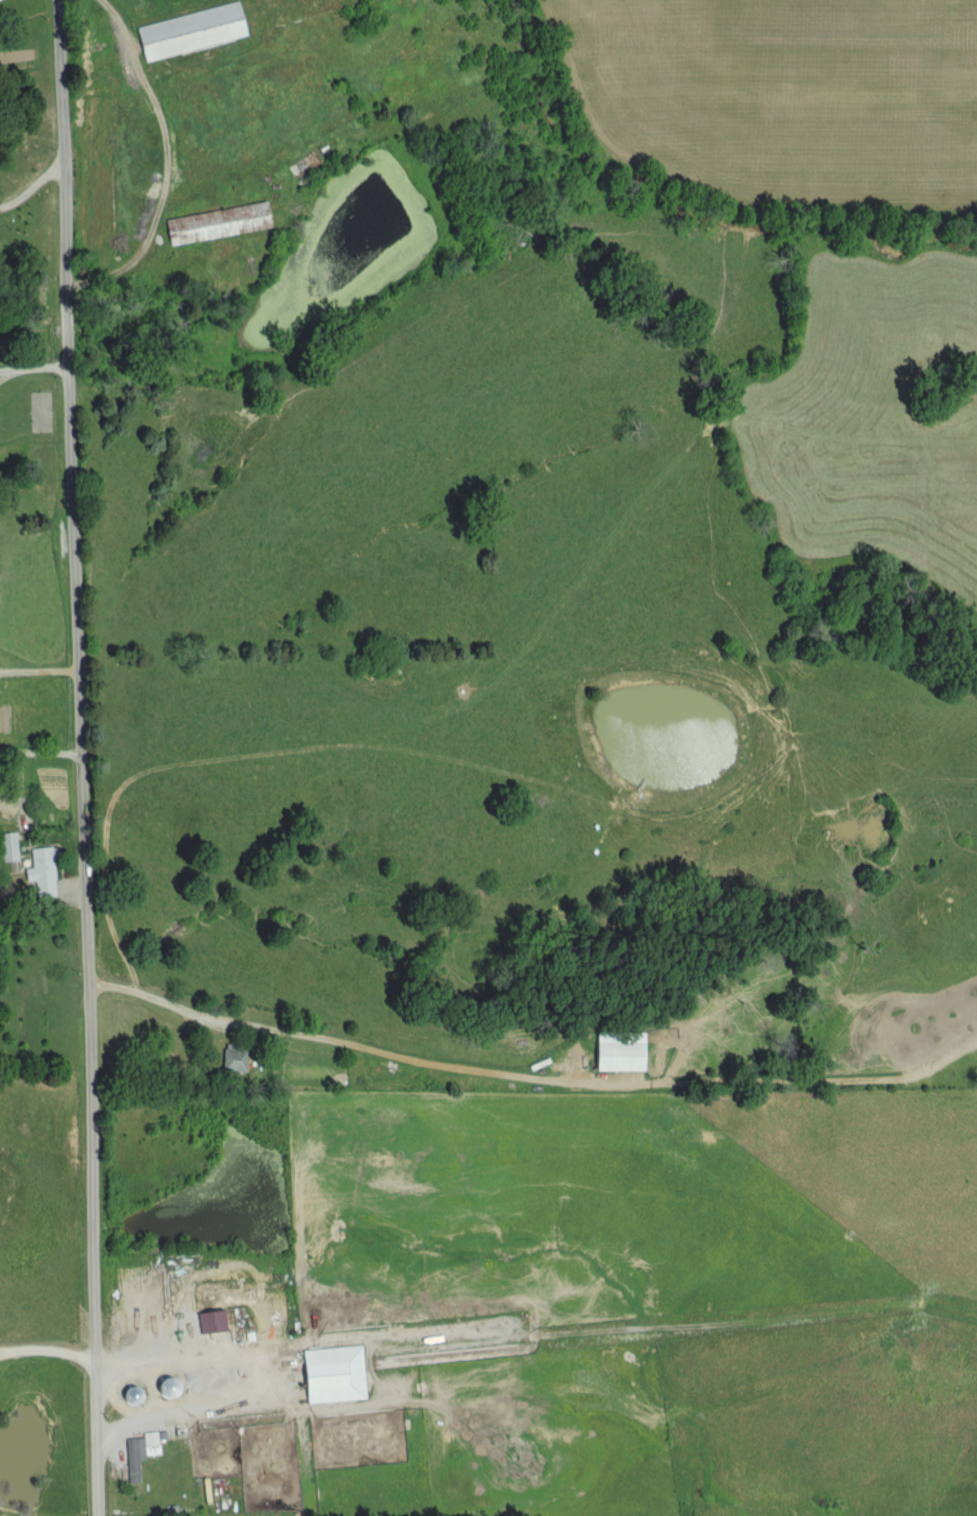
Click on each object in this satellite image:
building: (188, 31)
road: (154, 118)
building: (215, 223)
road: (32, 377)
road: (75, 713)
building: (8, 846)
building: (40, 872)
road: (348, 1037)
building: (617, 1057)
building: (232, 1059)
building: (330, 1374)
road: (188, 1406)
building: (137, 1452)
road: (93, 1472)

